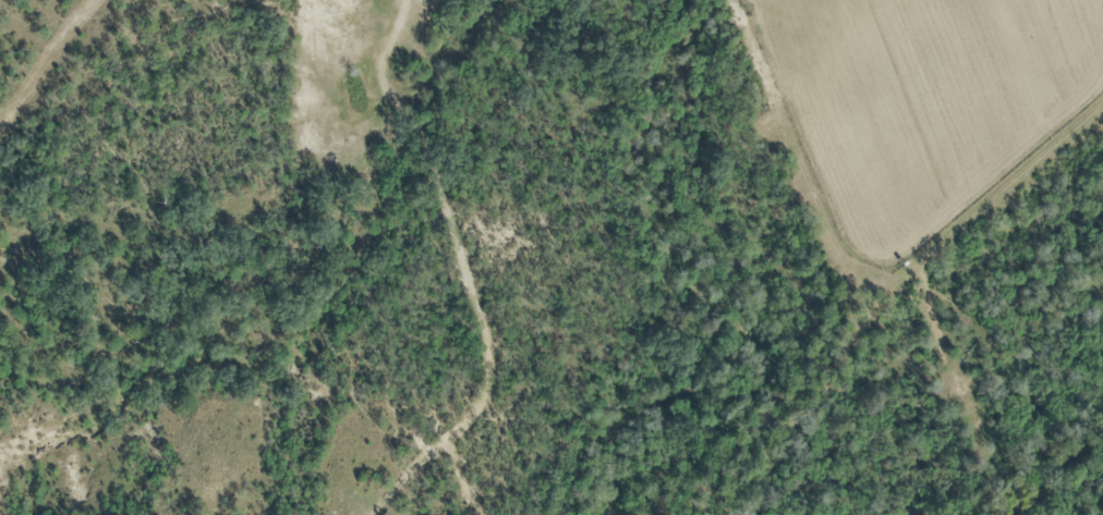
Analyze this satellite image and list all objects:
river: (1054, 479)

